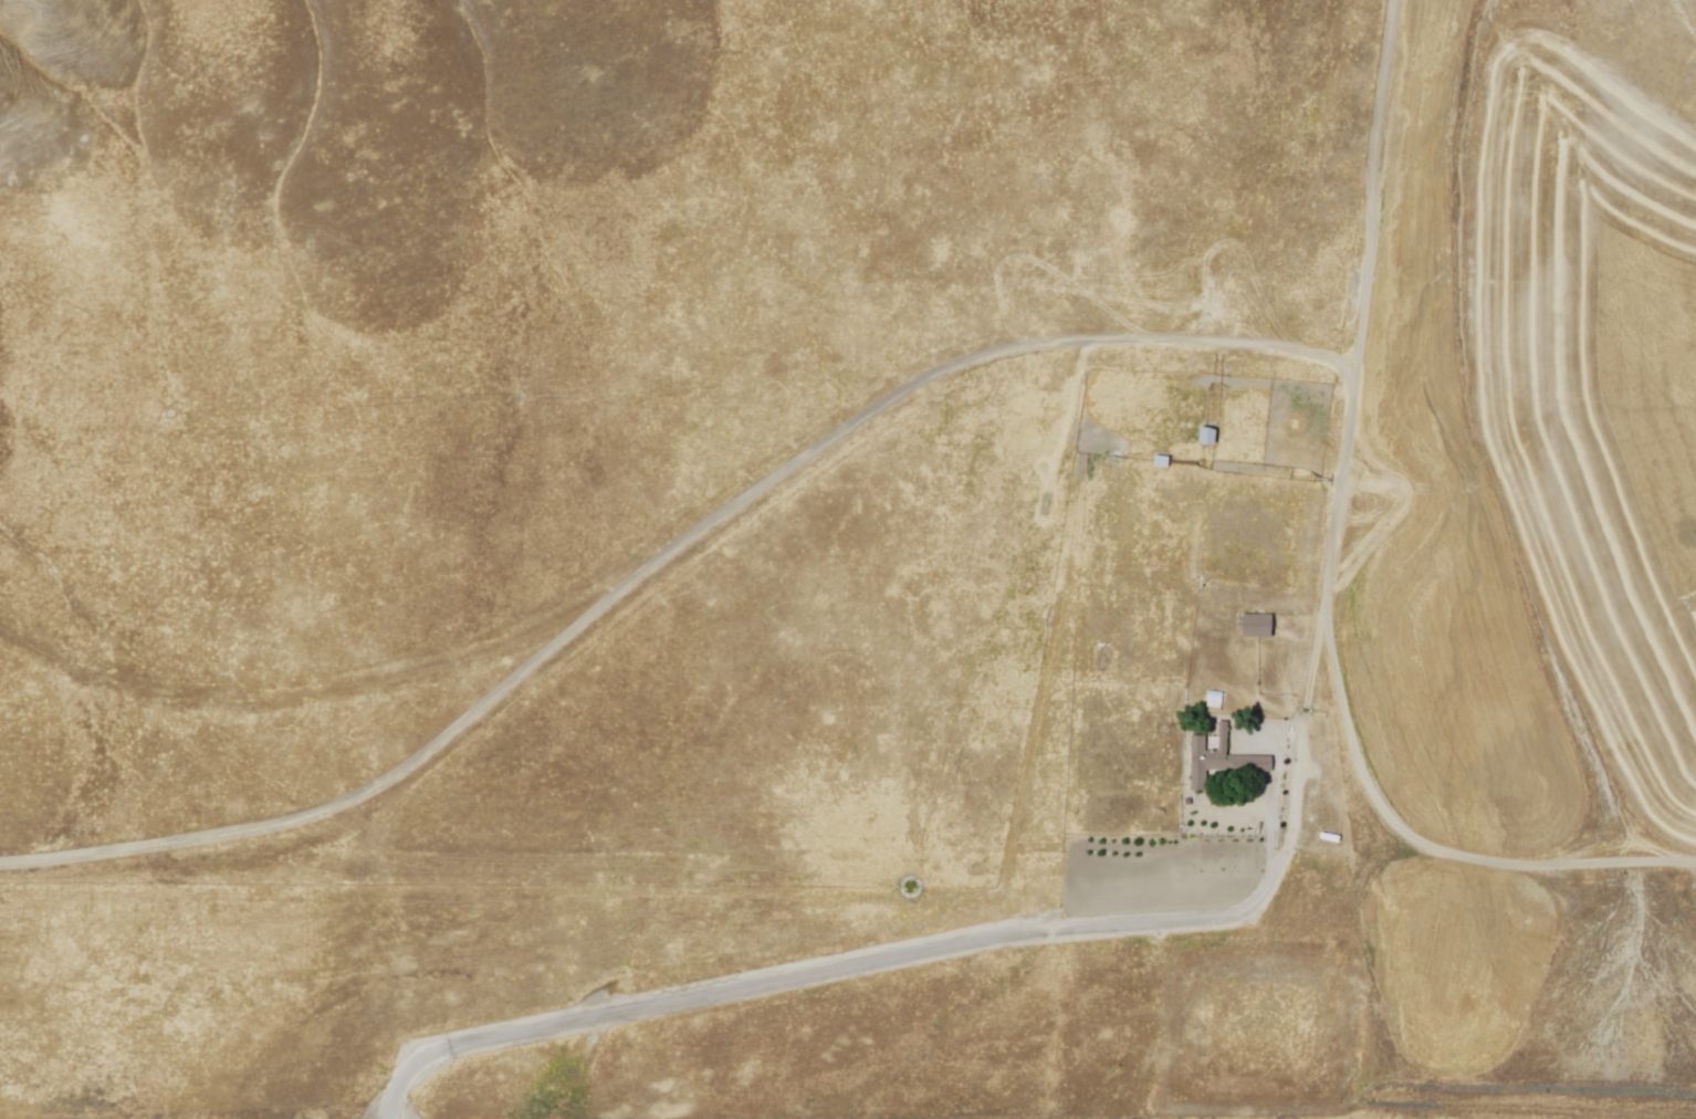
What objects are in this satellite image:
building: (1212, 437)
building: (1165, 462)
road: (669, 566)
building: (1261, 628)
building: (1216, 698)
building: (1224, 760)
road: (1420, 840)
road: (1250, 901)

